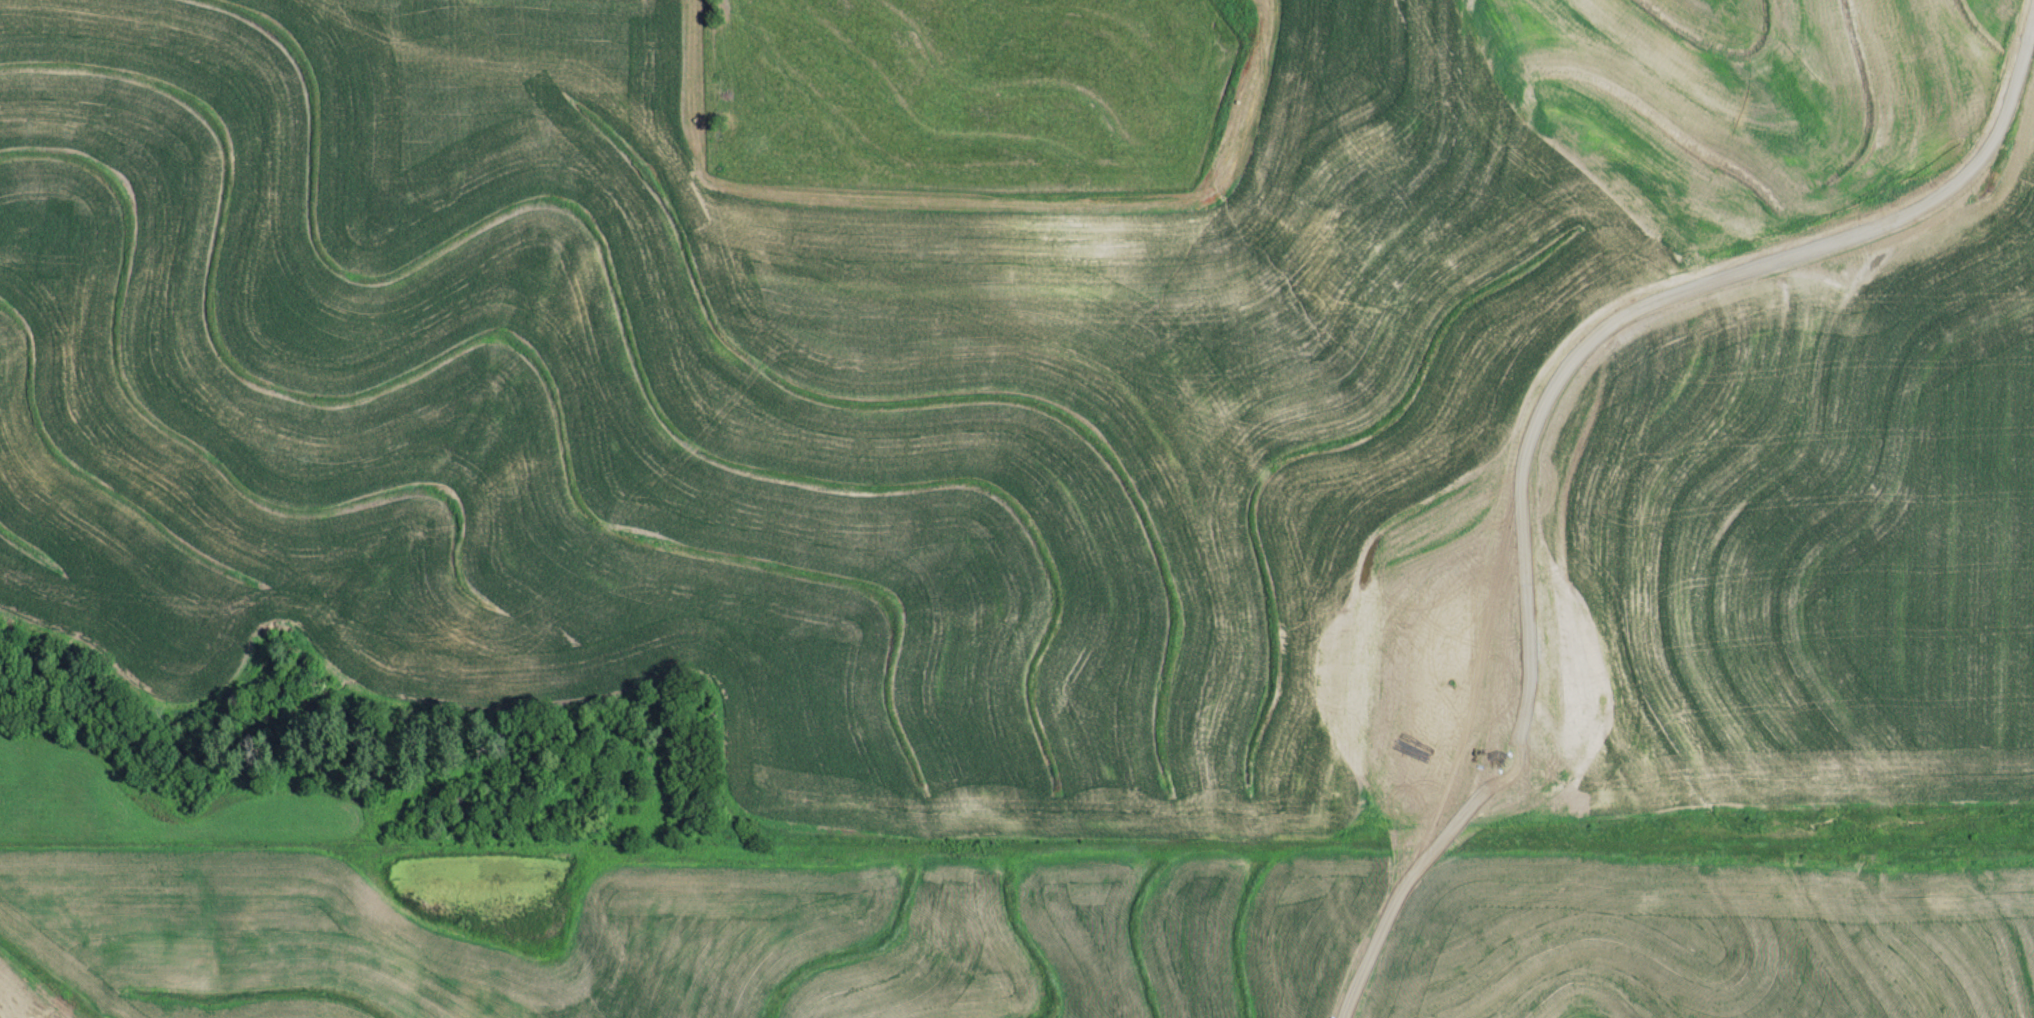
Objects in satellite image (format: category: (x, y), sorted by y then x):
road: (1545, 413)
wind turbine: (1445, 685)

